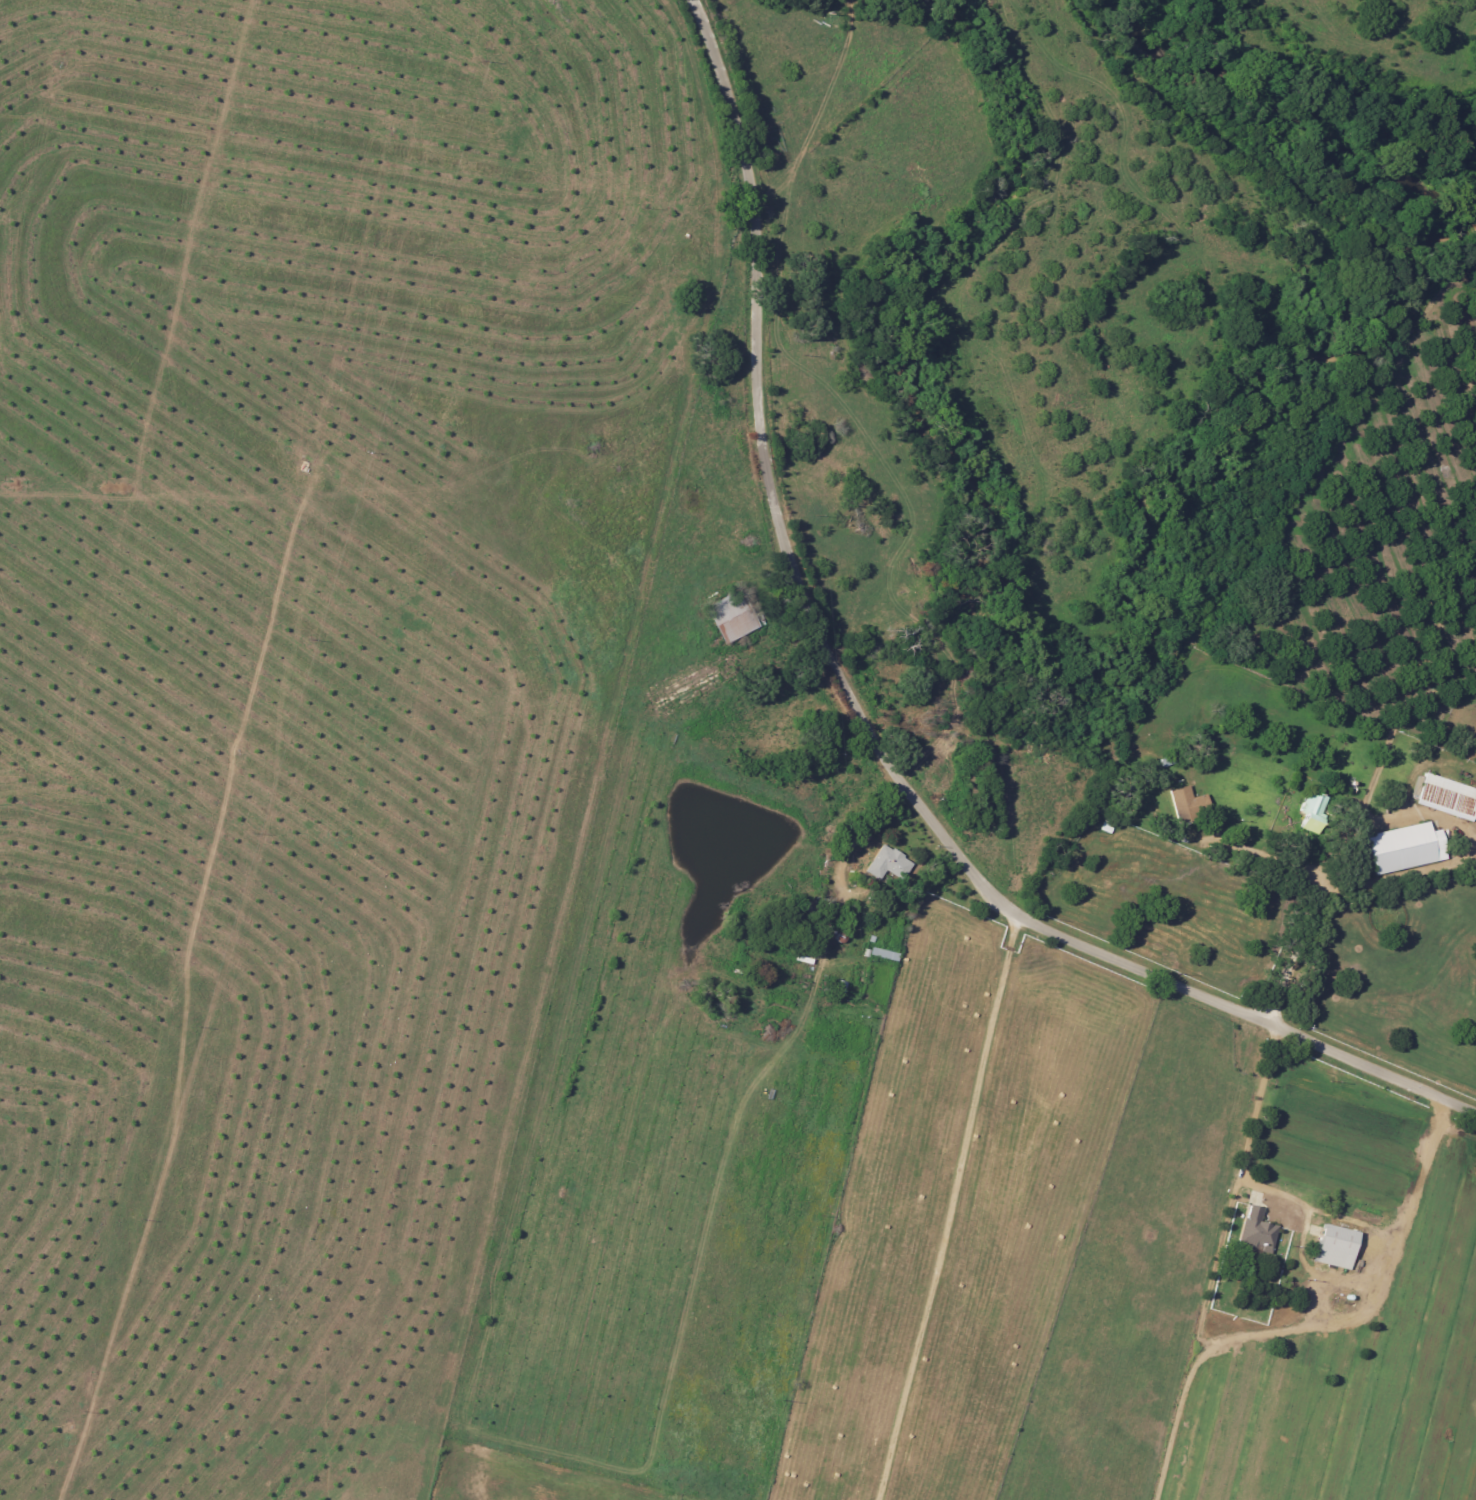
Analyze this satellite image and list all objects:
building: (734, 617)
road: (1426, 648)
road: (864, 721)
building: (1448, 796)
building: (1191, 803)
building: (1314, 811)
building: (1407, 847)
road: (1261, 859)
building: (891, 862)
road: (844, 866)
road: (1297, 949)
road: (1243, 1161)
road: (1424, 1169)
road: (954, 1210)
building: (1258, 1229)
building: (1337, 1246)

